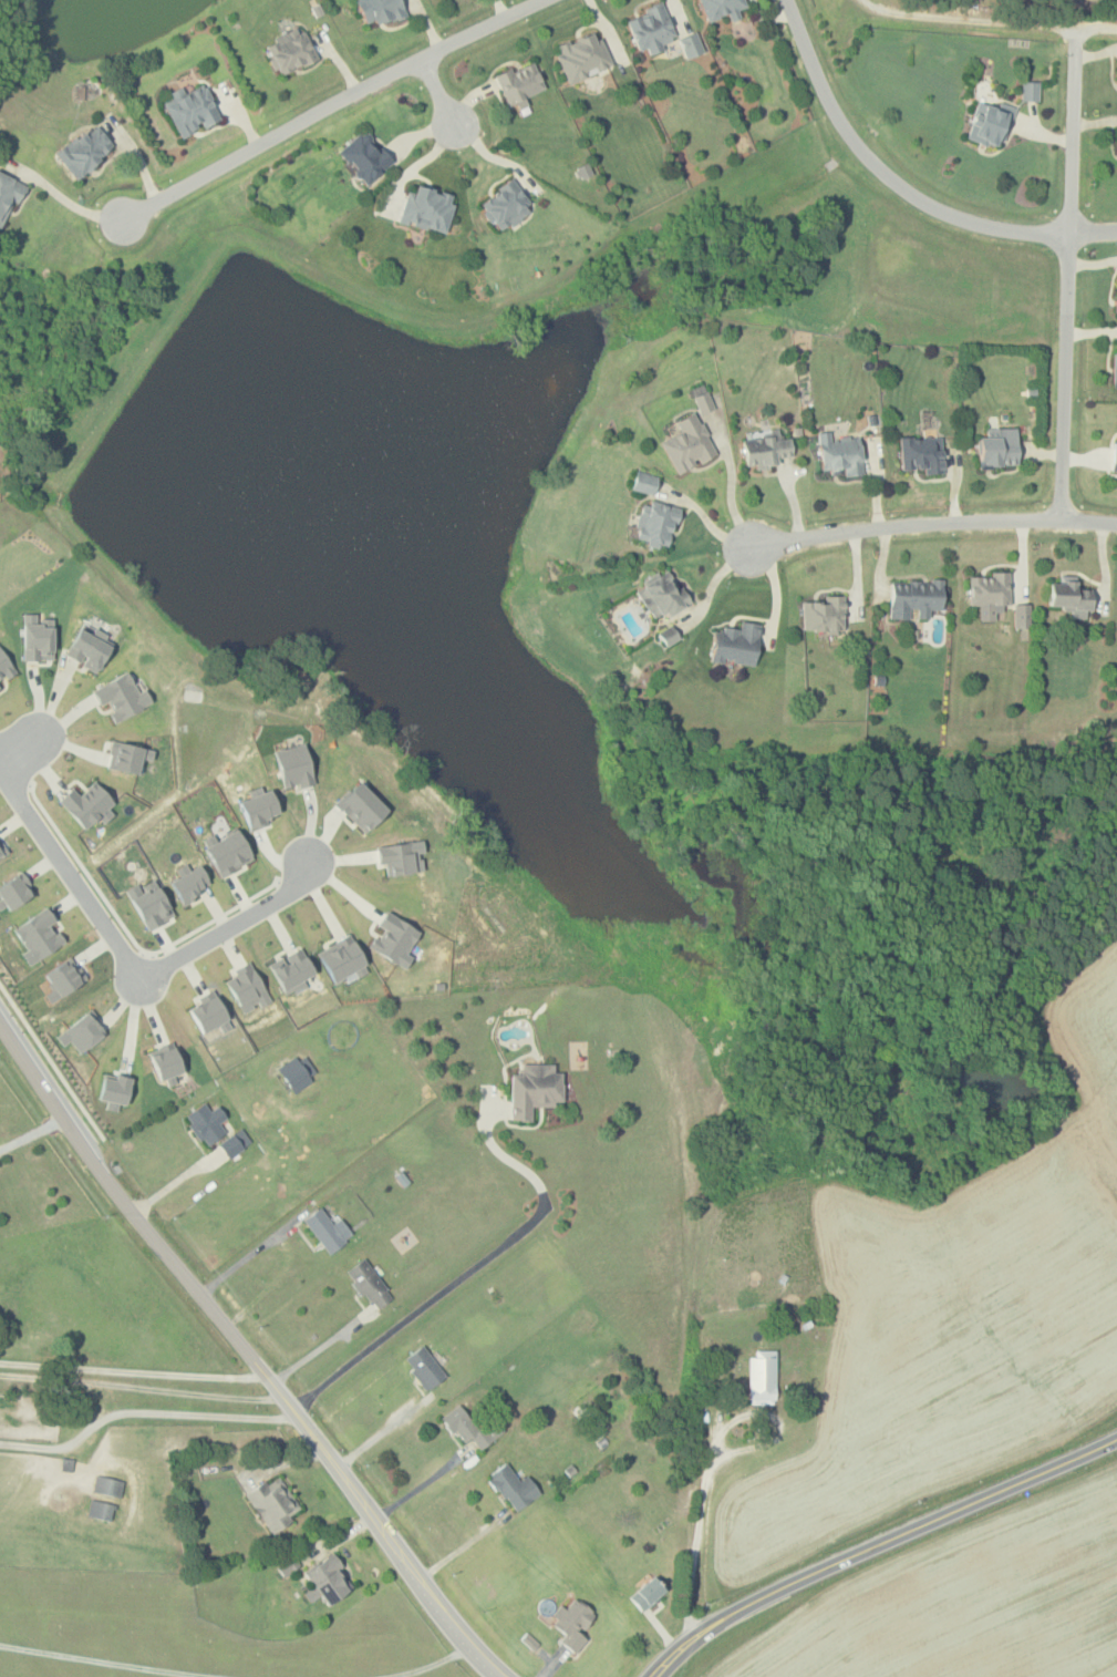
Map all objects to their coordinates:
building: (721, 8)
building: (380, 10)
road: (972, 19)
road: (1090, 29)
building: (651, 30)
building: (690, 44)
building: (289, 51)
building: (581, 58)
building: (1116, 69)
building: (519, 84)
road: (438, 90)
building: (1028, 90)
road: (331, 107)
building: (192, 110)
building: (989, 124)
building: (84, 151)
building: (364, 157)
road: (497, 157)
road: (904, 184)
building: (8, 195)
road: (64, 198)
building: (505, 206)
building: (427, 208)
road: (1069, 285)
building: (1116, 308)
building: (1115, 366)
building: (702, 401)
building: (686, 445)
building: (1000, 447)
building: (767, 449)
building: (840, 453)
building: (921, 453)
building: (1115, 457)
road: (731, 480)
building: (643, 483)
road: (705, 518)
road: (934, 522)
building: (655, 525)
building: (989, 594)
building: (663, 596)
building: (916, 596)
building: (1071, 598)
building: (824, 616)
building: (1021, 616)
building: (666, 635)
building: (37, 639)
building: (737, 644)
building: (89, 648)
building: (4, 667)
building: (0, 688)
building: (121, 696)
road: (17, 745)
building: (127, 757)
road: (14, 760)
building: (293, 765)
building: (87, 805)
building: (361, 806)
building: (258, 809)
building: (2, 850)
building: (228, 853)
building: (400, 857)
building: (188, 882)
building: (13, 891)
building: (149, 904)
building: (38, 935)
building: (394, 938)
road: (136, 946)
road: (124, 951)
building: (342, 959)
building: (290, 971)
road: (138, 974)
building: (62, 978)
building: (246, 987)
building: (208, 1012)
building: (81, 1031)
road: (51, 1058)
building: (165, 1063)
building: (293, 1076)
building: (535, 1090)
building: (114, 1091)
building: (205, 1124)
road: (32, 1133)
building: (234, 1145)
building: (327, 1230)
road: (245, 1257)
road: (472, 1268)
building: (368, 1283)
crop: (949, 1320)
road: (318, 1350)
road: (244, 1355)
building: (422, 1367)
road: (130, 1371)
building: (761, 1377)
road: (138, 1387)
road: (141, 1411)
building: (468, 1428)
road: (381, 1433)
building: (106, 1486)
building: (513, 1486)
road: (415, 1489)
building: (271, 1503)
building: (99, 1510)
road: (697, 1524)
road: (876, 1544)
road: (459, 1547)
building: (325, 1580)
building: (647, 1592)
crop: (965, 1604)
building: (571, 1623)
road: (105, 1661)
road: (430, 1665)

